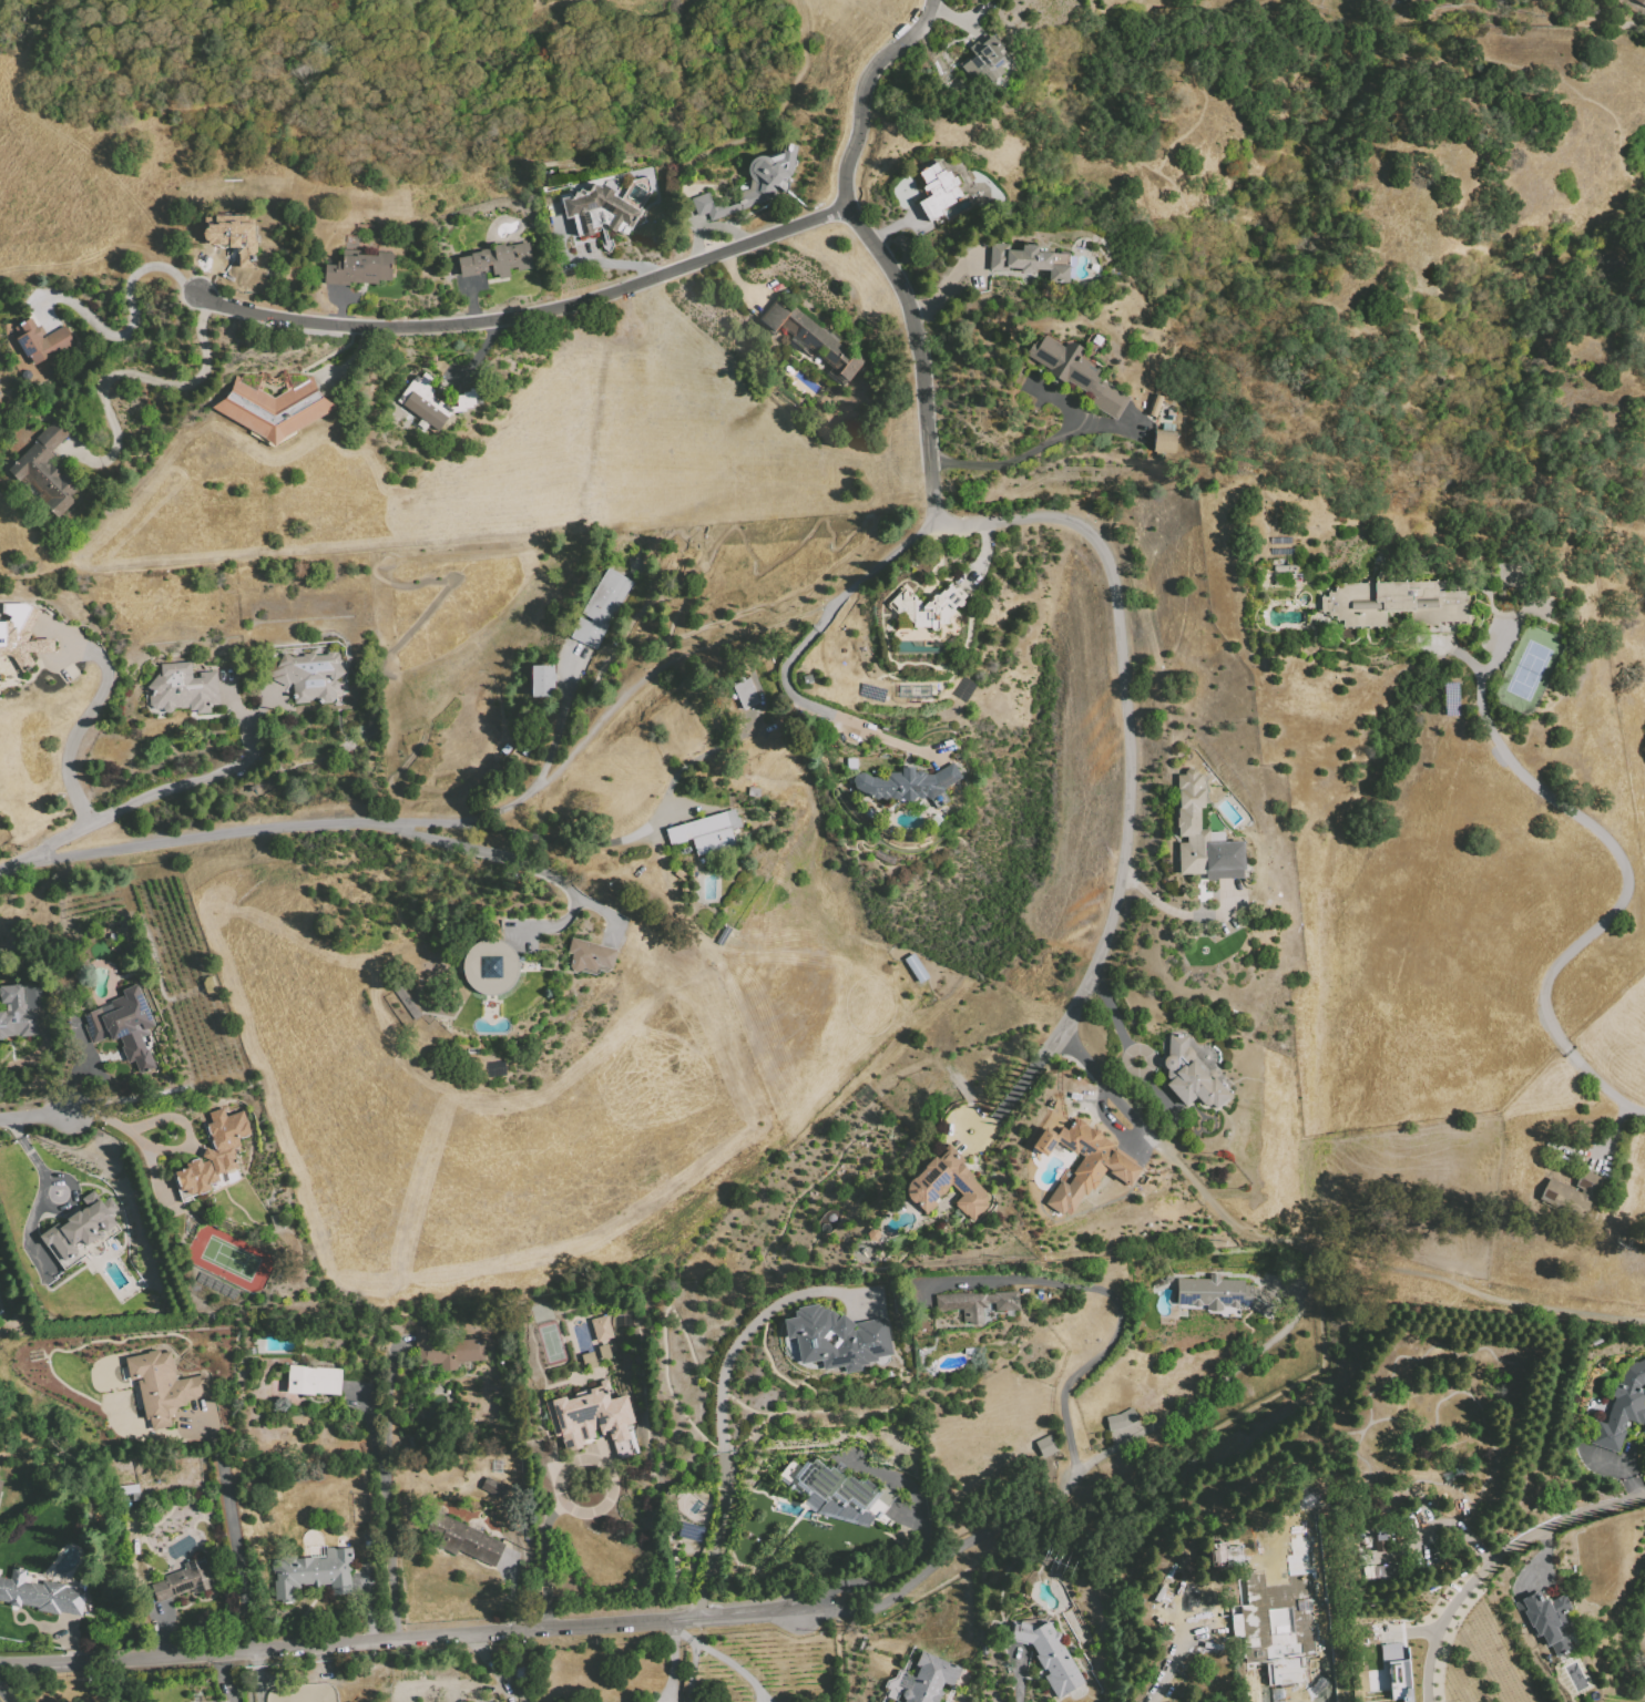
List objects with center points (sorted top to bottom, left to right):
building: (1641, 1)
road: (953, 16)
building: (982, 59)
road: (728, 139)
building: (753, 183)
building: (936, 189)
building: (604, 206)
road: (893, 226)
building: (231, 235)
road: (697, 242)
road: (875, 247)
building: (495, 259)
building: (1023, 260)
road: (617, 264)
building: (358, 266)
road: (737, 283)
road: (947, 285)
road: (470, 303)
road: (339, 308)
road: (531, 314)
road: (133, 315)
building: (41, 340)
building: (814, 340)
road: (480, 347)
road: (351, 359)
road: (133, 373)
building: (1080, 373)
building: (433, 400)
building: (272, 403)
building: (1156, 406)
building: (1165, 441)
road: (1013, 460)
building: (44, 470)
road: (825, 526)
building: (1280, 540)
road: (983, 552)
building: (1283, 552)
road: (882, 563)
building: (1286, 574)
building: (1508, 574)
building: (1396, 603)
building: (926, 607)
building: (599, 608)
building: (20, 634)
road: (673, 659)
park: (1533, 663)
building: (306, 675)
building: (540, 680)
building: (180, 689)
building: (744, 693)
road: (816, 706)
road: (560, 717)
road: (1126, 718)
road: (79, 722)
building: (907, 785)
road: (157, 792)
road: (285, 828)
building: (704, 830)
building: (1204, 835)
road: (590, 840)
road: (521, 859)
road: (1626, 889)
road: (1182, 914)
building: (587, 954)
building: (489, 965)
building: (915, 966)
building: (207, 985)
building: (20, 1007)
road: (1111, 1012)
building: (123, 1026)
road: (39, 1052)
building: (1191, 1076)
road: (1010, 1097)
road: (40, 1114)
road: (1617, 1124)
road: (27, 1149)
road: (171, 1149)
building: (214, 1151)
building: (1082, 1162)
building: (944, 1185)
road: (72, 1190)
building: (1572, 1192)
building: (80, 1226)
road: (29, 1237)
road: (1312, 1244)
park: (228, 1257)
building: (1223, 1294)
building: (975, 1302)
road: (1120, 1313)
building: (601, 1327)
building: (835, 1337)
park: (550, 1342)
building: (445, 1350)
building: (603, 1352)
building: (587, 1360)
building: (311, 1380)
building: (160, 1386)
building: (1623, 1408)
building: (591, 1419)
building: (1120, 1419)
road: (721, 1426)
building: (1045, 1445)
road: (576, 1458)
road: (1624, 1469)
building: (0, 1481)
building: (492, 1487)
road: (1099, 1494)
building: (840, 1495)
road: (387, 1509)
road: (1556, 1522)
building: (689, 1531)
building: (461, 1538)
road: (235, 1547)
road: (918, 1550)
road: (1541, 1558)
road: (545, 1562)
building: (311, 1573)
building: (181, 1580)
building: (1294, 1588)
building: (42, 1595)
building: (1549, 1619)
road: (681, 1620)
building: (1278, 1620)
road: (683, 1630)
road: (1434, 1631)
road: (1181, 1647)
building: (1046, 1654)
road: (673, 1661)
road: (730, 1664)
road: (488, 1668)
road: (691, 1670)
road: (225, 1677)
road: (1019, 1677)
building: (1398, 1677)
building: (929, 1678)
building: (1459, 1692)
road: (2, 1698)
building: (896, 1701)

